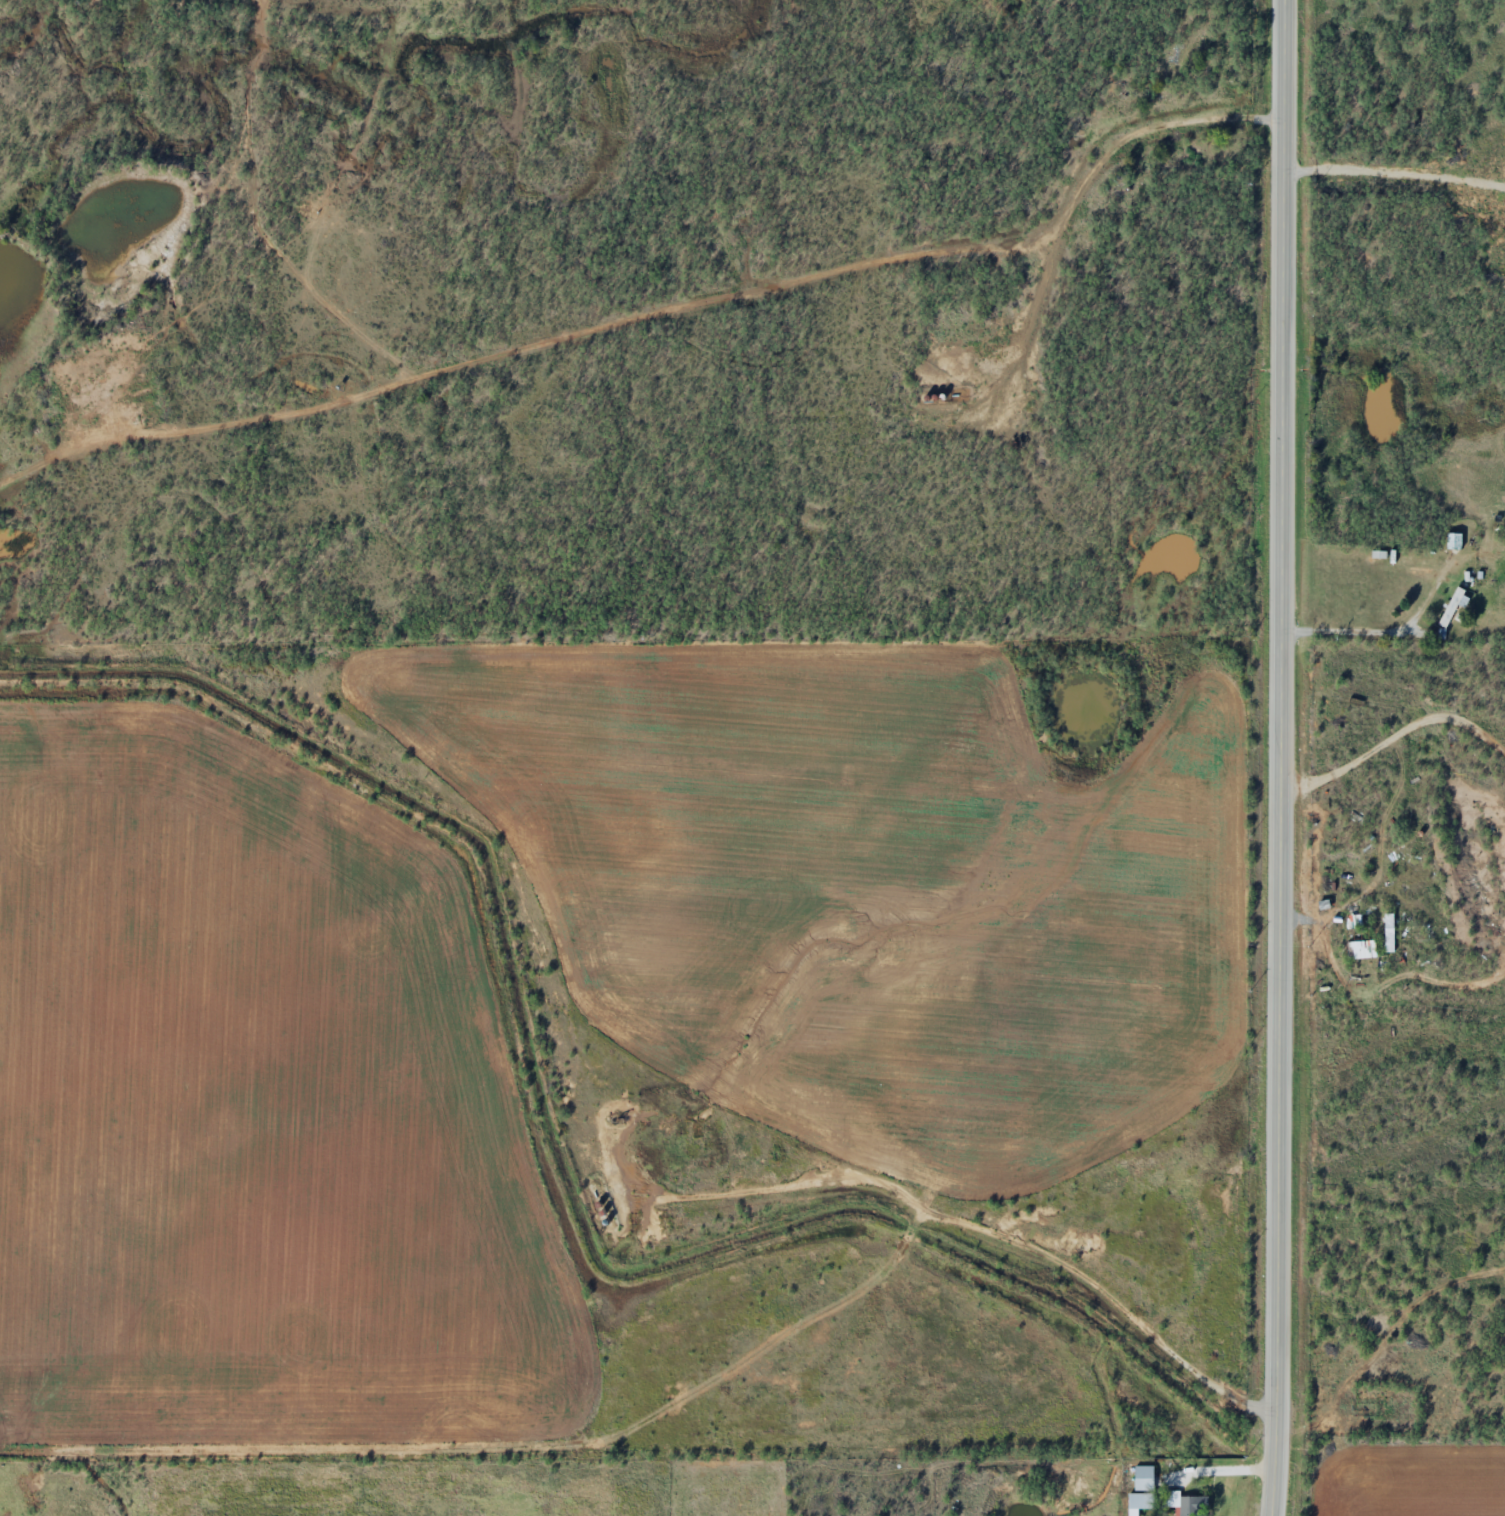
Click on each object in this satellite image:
building: (1453, 606)
road: (1280, 758)
building: (1388, 933)
building: (1351, 934)
building: (1141, 1490)
building: (1184, 1503)

